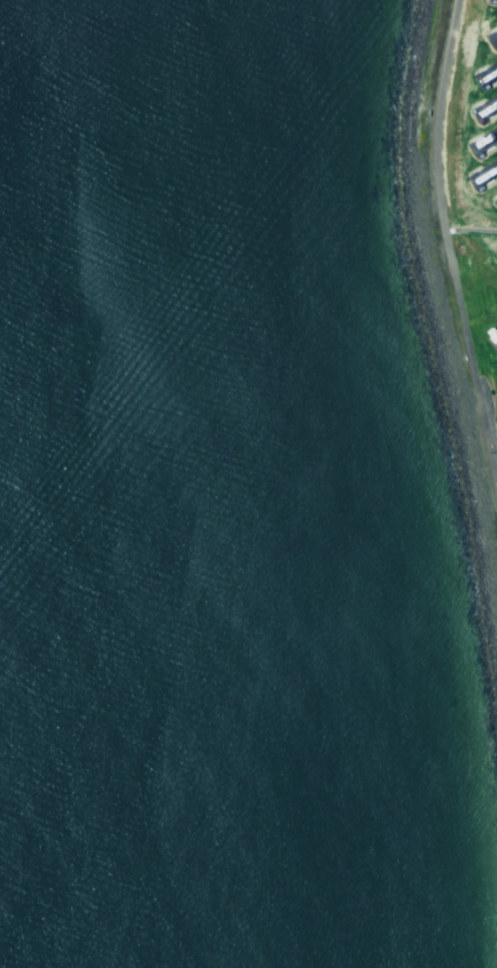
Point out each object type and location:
road: (446, 269)

